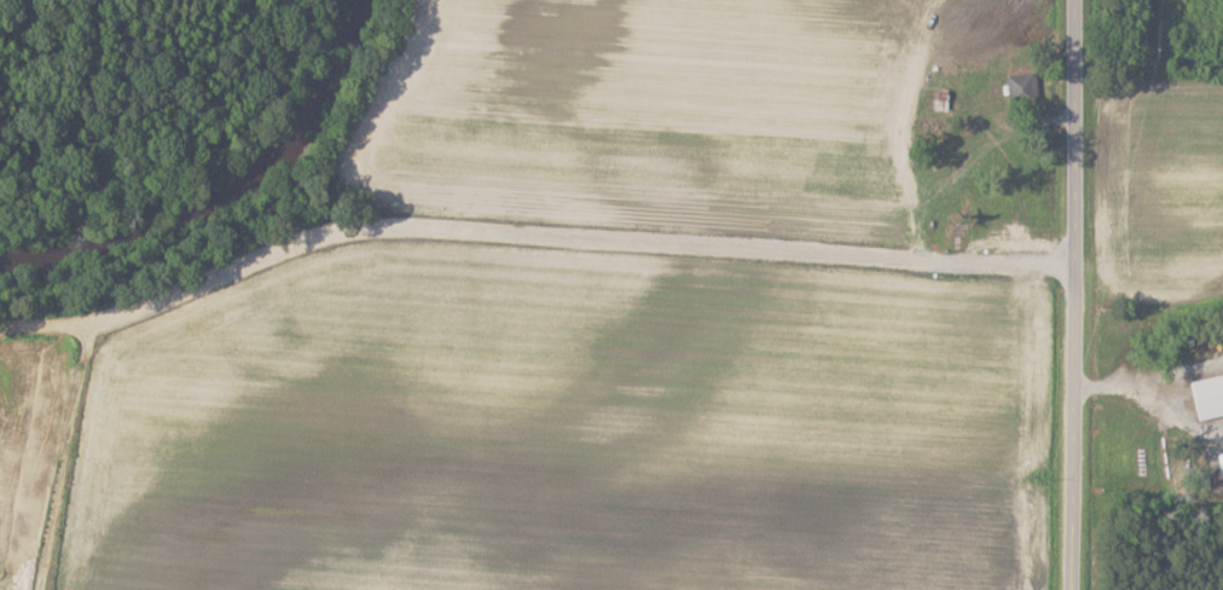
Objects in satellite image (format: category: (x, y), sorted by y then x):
building: (1024, 88)
river: (230, 198)
road: (1071, 294)
road: (1187, 371)
road: (1111, 384)
building: (1210, 397)
road: (1178, 415)

